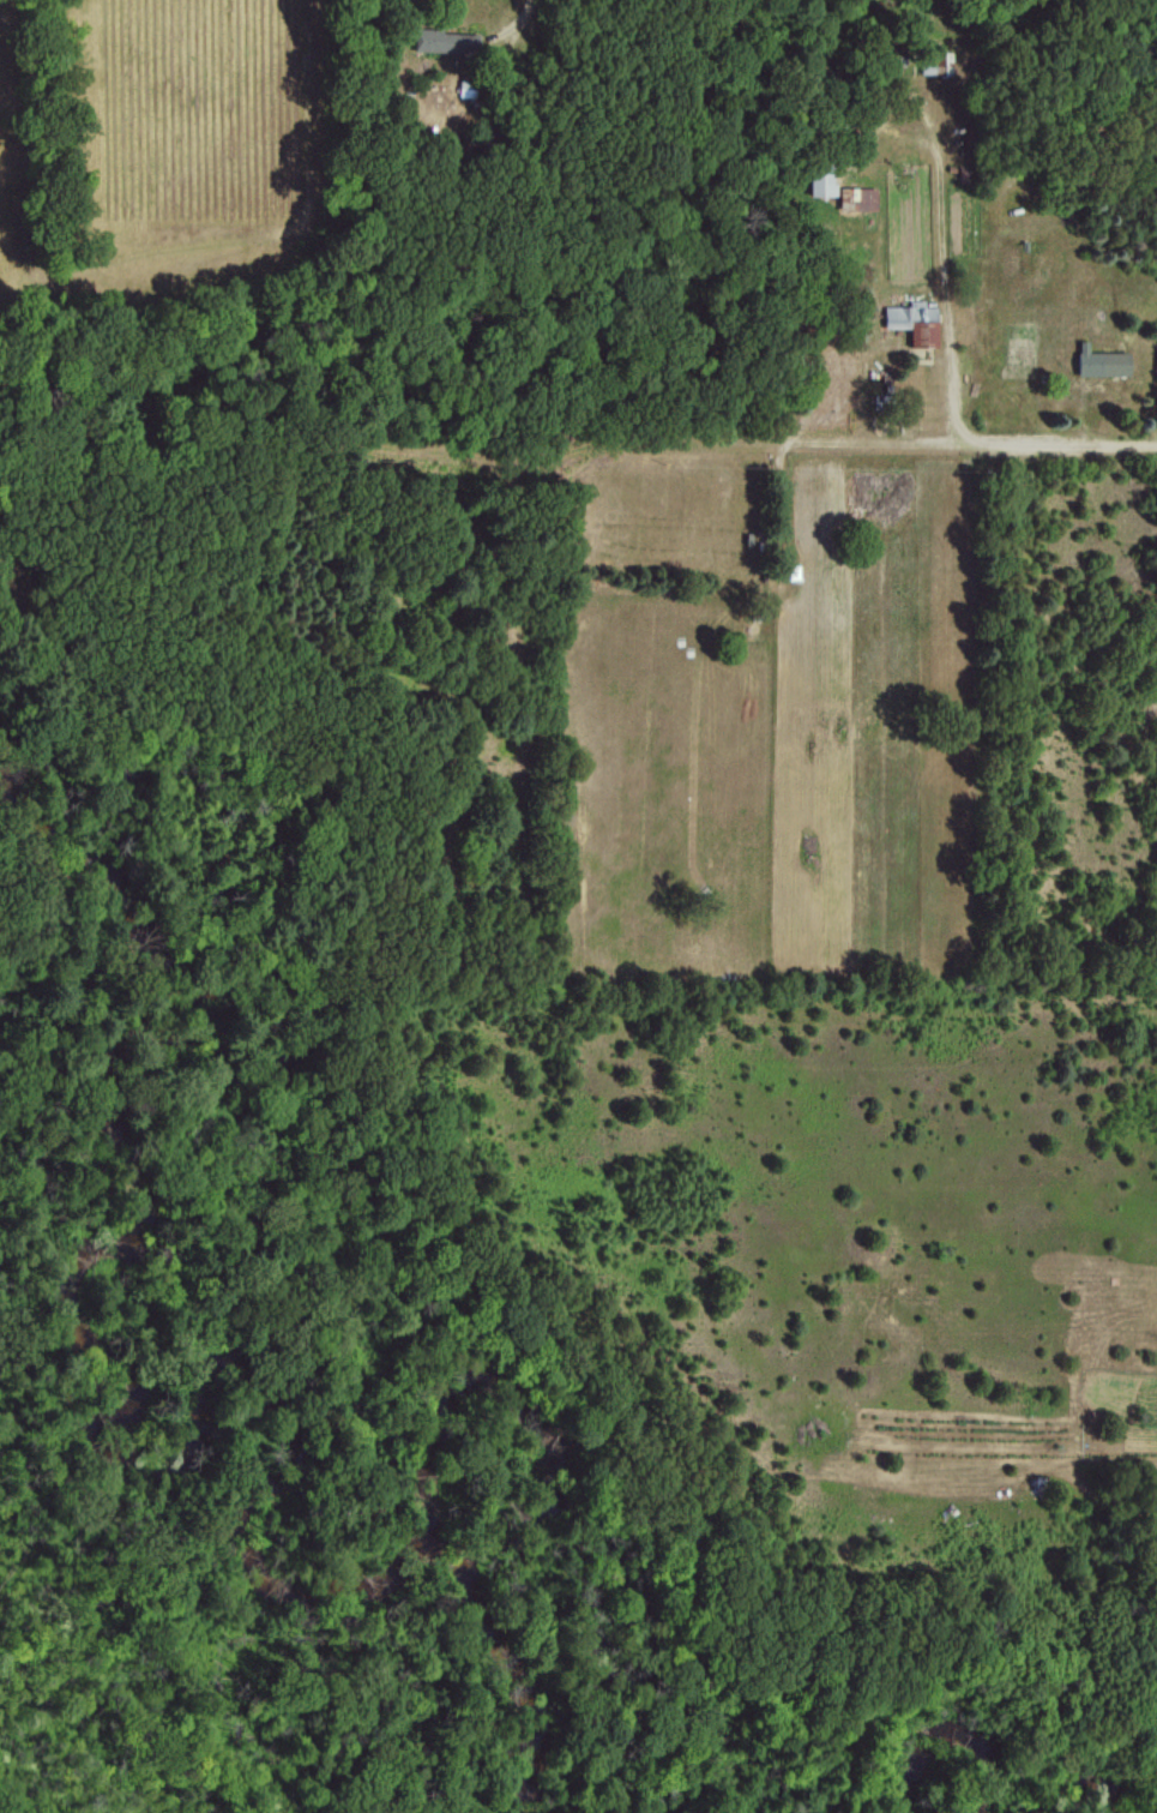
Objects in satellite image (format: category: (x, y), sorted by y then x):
road: (520, 14)
building: (444, 42)
building: (934, 61)
building: (820, 182)
road: (942, 187)
building: (856, 198)
building: (912, 322)
building: (1099, 361)
road: (876, 431)
road: (1062, 434)

